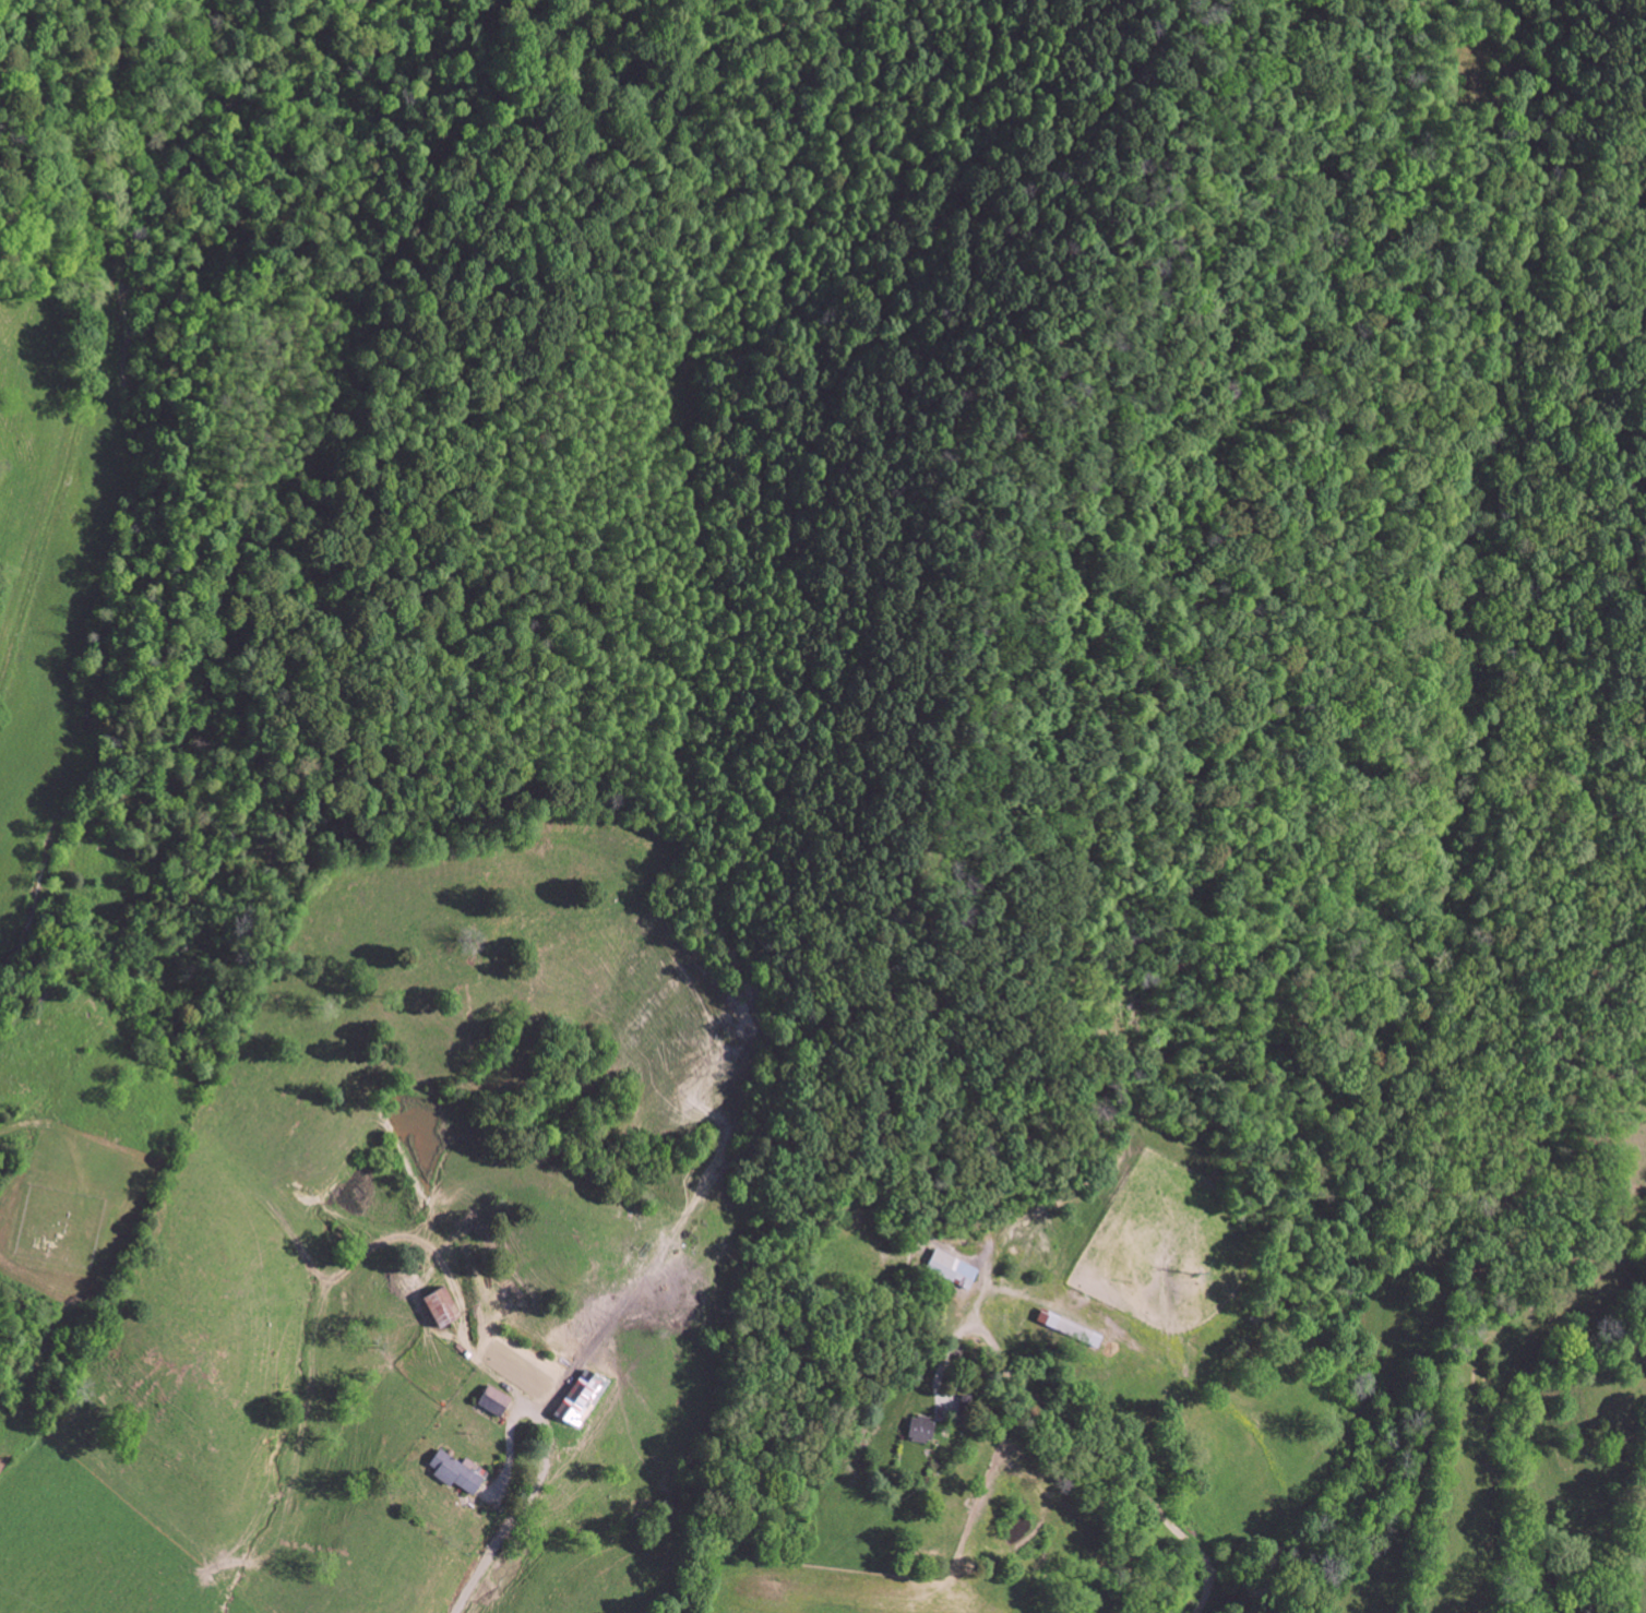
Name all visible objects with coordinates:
building: (953, 1269)
building: (444, 1307)
building: (1070, 1330)
building: (494, 1402)
building: (921, 1431)
building: (457, 1473)

